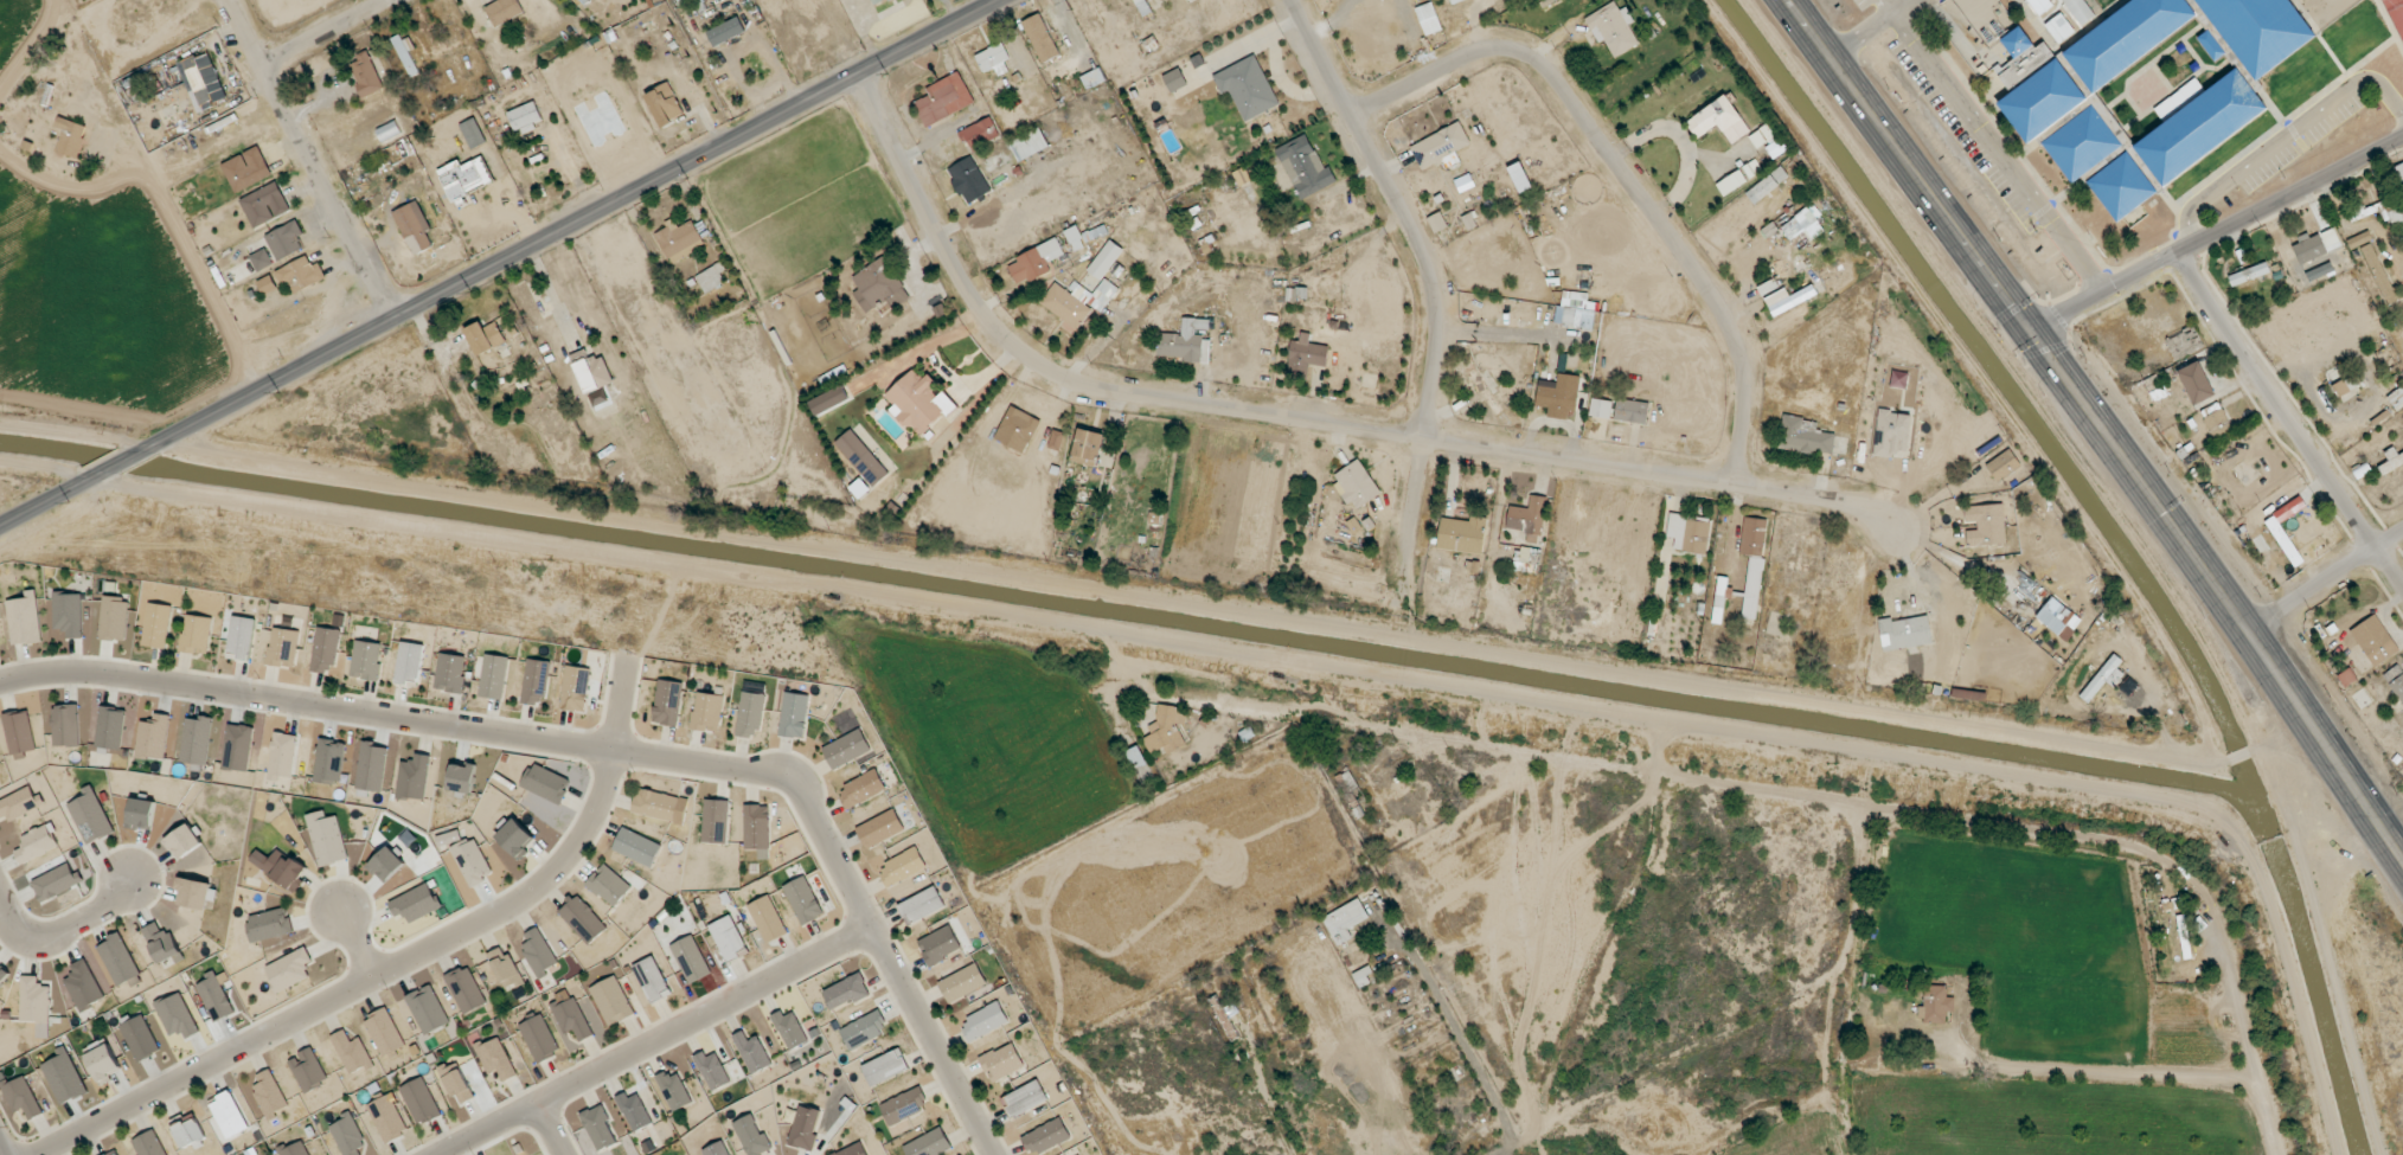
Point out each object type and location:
building: (878, 1)
building: (1455, 1)
building: (1139, 2)
road: (1902, 2)
park: (2104, 4)
road: (1886, 6)
building: (2040, 6)
building: (2080, 9)
building: (504, 11)
park: (2396, 14)
building: (1429, 19)
building: (709, 24)
building: (2058, 27)
building: (1613, 28)
building: (2261, 31)
building: (725, 32)
road: (1864, 32)
road: (325, 33)
building: (1040, 38)
building: (2126, 38)
building: (405, 56)
building: (993, 59)
building: (365, 73)
building: (1092, 78)
building: (1174, 81)
building: (196, 84)
building: (1248, 88)
building: (2037, 91)
building: (944, 100)
building: (665, 104)
building: (525, 117)
building: (1719, 120)
building: (2198, 123)
building: (389, 131)
building: (473, 133)
building: (980, 134)
building: (1762, 135)
road: (2285, 136)
building: (70, 137)
building: (1029, 145)
building: (1440, 145)
building: (1775, 148)
road: (2000, 149)
road: (310, 159)
building: (1305, 167)
building: (246, 169)
road: (1625, 172)
building: (466, 177)
building: (1242, 177)
building: (1520, 178)
building: (968, 180)
building: (1767, 185)
building: (265, 205)
road: (164, 216)
building: (2396, 216)
road: (573, 224)
building: (1803, 224)
building: (414, 226)
road: (2216, 233)
building: (1076, 237)
building: (2330, 237)
building: (2359, 239)
building: (286, 240)
building: (679, 240)
building: (2308, 249)
building: (261, 259)
building: (1106, 259)
building: (1034, 262)
building: (2376, 269)
building: (2320, 271)
building: (2249, 274)
building: (300, 275)
building: (711, 277)
building: (267, 284)
building: (878, 285)
road: (1431, 288)
building: (1296, 293)
building: (1788, 300)
building: (1077, 301)
building: (1576, 312)
traffic signals: (2029, 328)
building: (485, 338)
building: (1185, 342)
building: (1306, 355)
building: (1898, 379)
building: (2196, 383)
building: (2346, 389)
building: (1485, 394)
building: (2397, 398)
building: (1556, 399)
building: (829, 400)
building: (918, 403)
building: (1601, 409)
building: (1632, 411)
road: (1295, 419)
road: (2289, 419)
building: (2216, 421)
road: (2100, 425)
building: (1017, 429)
building: (1893, 435)
building: (1803, 436)
building: (1056, 441)
building: (1088, 448)
building: (861, 458)
building: (2391, 461)
road: (124, 463)
building: (2002, 464)
building: (1357, 485)
road: (50, 501)
building: (1986, 525)
building: (1688, 533)
building: (1462, 534)
building: (1752, 537)
road: (2325, 579)
building: (1752, 588)
building: (1719, 599)
building: (69, 614)
building: (114, 618)
building: (2058, 618)
building: (24, 620)
building: (156, 625)
building: (1904, 633)
building: (196, 634)
building: (241, 637)
building: (283, 647)
building: (2379, 648)
building: (323, 650)
building: (366, 660)
building: (409, 663)
building: (450, 673)
building: (493, 676)
building: (2104, 676)
building: (2396, 681)
building: (534, 682)
building: (575, 688)
building: (667, 702)
building: (707, 712)
building: (750, 713)
building: (794, 716)
building: (65, 725)
building: (110, 727)
building: (1166, 730)
building: (19, 732)
building: (153, 737)
building: (196, 740)
building: (237, 747)
building: (846, 749)
road: (603, 751)
building: (282, 756)
building: (329, 762)
building: (371, 766)
building: (414, 777)
building: (462, 777)
building: (545, 783)
building: (861, 789)
building: (18, 804)
building: (655, 804)
building: (141, 814)
building: (90, 816)
building: (715, 821)
building: (880, 828)
building: (757, 829)
building: (327, 839)
building: (515, 839)
building: (184, 842)
building: (37, 843)
building: (636, 847)
building: (472, 861)
building: (386, 865)
building: (281, 867)
building: (902, 867)
building: (56, 881)
building: (609, 886)
building: (194, 893)
building: (803, 900)
building: (415, 903)
building: (921, 905)
building: (582, 919)
building: (767, 919)
building: (1345, 920)
road: (65, 925)
building: (269, 925)
building: (728, 938)
building: (2184, 941)
road: (351, 942)
building: (162, 944)
building: (940, 945)
building: (539, 954)
building: (118, 960)
building: (690, 960)
road: (399, 963)
building: (505, 968)
building: (290, 969)
building: (2, 976)
building: (1364, 976)
building: (652, 978)
building: (962, 983)
building: (83, 986)
building: (466, 989)
building: (846, 992)
building: (214, 996)
building: (34, 1000)
building: (611, 1001)
building: (1935, 1005)
building: (428, 1009)
building: (177, 1015)
building: (571, 1018)
building: (983, 1021)
building: (789, 1029)
building: (864, 1029)
building: (384, 1032)
building: (140, 1038)
building: (539, 1038)
road: (2247, 1038)
road: (651, 1040)
building: (351, 1052)
building: (752, 1052)
building: (495, 1058)
building: (1001, 1063)
building: (885, 1067)
building: (308, 1070)
building: (718, 1071)
building: (64, 1077)
building: (457, 1083)
building: (674, 1090)
building: (269, 1093)
building: (21, 1097)
building: (1025, 1098)
building: (421, 1101)
building: (903, 1106)
building: (634, 1111)
building: (228, 1117)
building: (386, 1118)
building: (802, 1127)
road: (549, 1128)
building: (598, 1128)
building: (190, 1132)
building: (347, 1135)
building: (751, 1136)
building: (1045, 1136)
building: (149, 1144)
building: (929, 1144)
building: (294, 1149)
building: (717, 1149)
building: (853, 1150)
road: (0, 1153)
building: (115, 1154)

